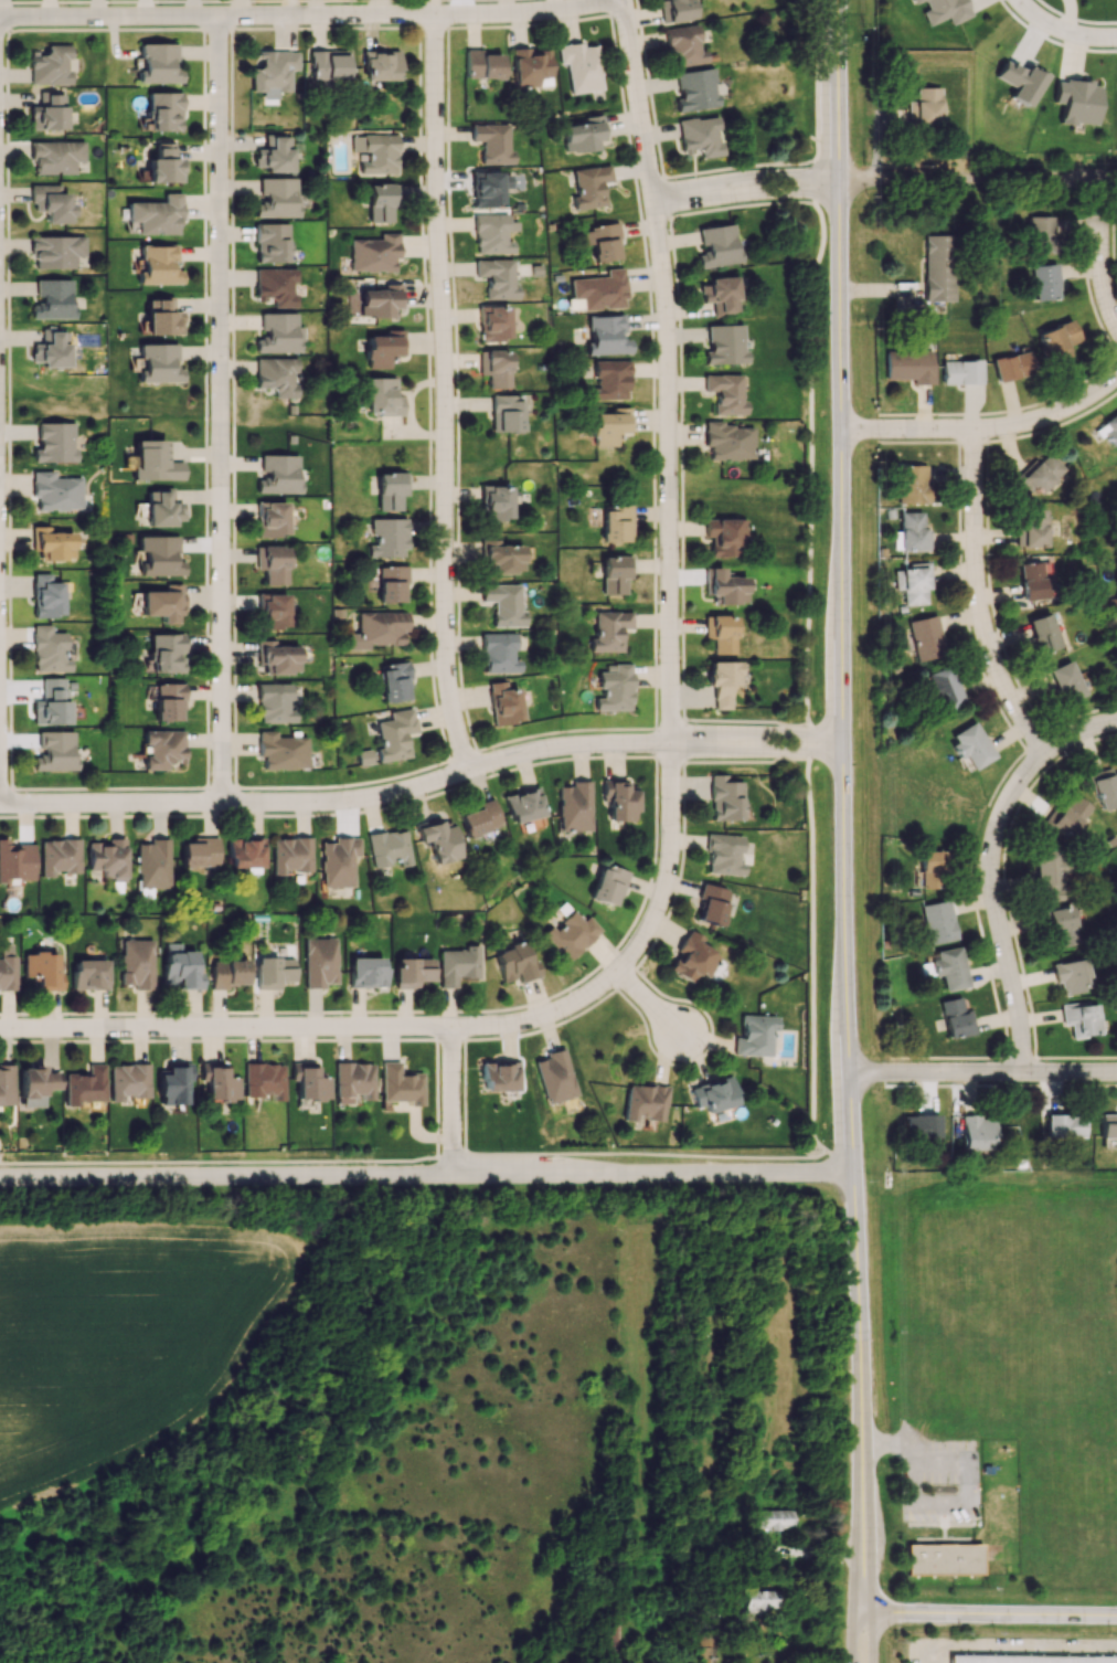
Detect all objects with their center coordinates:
road: (1019, 2)
building: (674, 10)
building: (943, 10)
road: (311, 18)
road: (1066, 31)
building: (683, 46)
building: (158, 64)
building: (328, 64)
building: (481, 64)
building: (51, 65)
building: (380, 65)
building: (581, 66)
building: (531, 67)
building: (273, 71)
building: (1021, 81)
building: (695, 89)
building: (1076, 100)
building: (923, 107)
building: (49, 112)
building: (163, 112)
building: (583, 134)
building: (700, 136)
building: (492, 142)
building: (376, 152)
building: (275, 153)
building: (56, 157)
road: (777, 179)
road: (965, 183)
building: (589, 187)
building: (489, 188)
road: (699, 197)
building: (277, 198)
road: (778, 198)
building: (381, 201)
building: (52, 203)
building: (156, 215)
building: (490, 234)
building: (1041, 234)
building: (599, 241)
building: (270, 243)
building: (717, 246)
building: (56, 252)
building: (374, 253)
building: (158, 266)
building: (938, 267)
road: (1103, 272)
building: (497, 278)
building: (1046, 282)
building: (275, 286)
building: (600, 290)
building: (721, 294)
building: (53, 299)
building: (381, 300)
building: (161, 317)
building: (493, 322)
building: (278, 333)
building: (606, 336)
building: (1056, 340)
building: (725, 345)
building: (383, 348)
building: (51, 350)
building: (158, 363)
building: (1012, 366)
building: (909, 367)
building: (494, 368)
building: (960, 372)
building: (276, 375)
building: (610, 380)
building: (725, 393)
road: (447, 395)
building: (383, 396)
road: (223, 411)
building: (506, 413)
building: (610, 425)
road: (986, 428)
building: (1109, 430)
building: (728, 442)
building: (54, 443)
building: (153, 462)
building: (278, 474)
building: (1040, 474)
building: (913, 484)
building: (391, 489)
building: (56, 491)
road: (669, 491)
building: (496, 502)
building: (161, 509)
building: (270, 519)
building: (616, 523)
building: (1031, 528)
building: (909, 532)
building: (725, 536)
building: (387, 538)
building: (53, 544)
building: (159, 555)
building: (500, 558)
building: (272, 564)
building: (615, 574)
building: (1031, 581)
building: (387, 582)
building: (912, 583)
building: (725, 586)
building: (47, 594)
road: (979, 600)
building: (162, 603)
building: (503, 604)
building: (273, 611)
building: (376, 629)
building: (609, 631)
building: (721, 633)
building: (1044, 633)
road: (0, 637)
building: (925, 638)
building: (49, 649)
building: (166, 653)
building: (499, 653)
building: (277, 657)
building: (393, 681)
building: (722, 681)
building: (1065, 681)
building: (615, 688)
building: (942, 688)
building: (168, 701)
building: (52, 702)
building: (275, 702)
building: (503, 703)
road: (1081, 732)
building: (395, 734)
road: (780, 738)
building: (970, 745)
building: (162, 748)
road: (832, 748)
building: (55, 751)
building: (281, 751)
road: (780, 755)
building: (363, 756)
building: (1104, 787)
road: (372, 798)
building: (725, 798)
building: (619, 799)
building: (524, 805)
building: (575, 806)
road: (843, 806)
building: (1067, 815)
building: (479, 817)
building: (437, 839)
building: (389, 848)
building: (200, 852)
building: (245, 852)
building: (290, 855)
building: (724, 855)
building: (60, 856)
building: (107, 858)
building: (15, 861)
building: (338, 861)
building: (153, 864)
building: (930, 869)
building: (607, 885)
building: (712, 903)
road: (994, 907)
building: (938, 922)
building: (1059, 926)
building: (571, 934)
building: (693, 958)
building: (320, 962)
building: (136, 963)
building: (515, 963)
building: (458, 965)
building: (7, 967)
building: (180, 967)
building: (946, 968)
building: (43, 970)
building: (274, 972)
building: (366, 972)
building: (413, 972)
building: (227, 973)
building: (89, 974)
building: (1071, 975)
road: (649, 1004)
building: (956, 1018)
building: (1081, 1018)
road: (317, 1029)
building: (755, 1035)
road: (811, 1039)
road: (956, 1057)
building: (499, 1076)
building: (555, 1076)
road: (983, 1076)
building: (264, 1080)
building: (128, 1081)
building: (308, 1081)
building: (352, 1081)
building: (217, 1082)
building: (6, 1084)
building: (35, 1084)
building: (173, 1084)
building: (400, 1084)
building: (85, 1085)
building: (714, 1094)
road: (455, 1101)
building: (645, 1102)
building: (919, 1125)
building: (1063, 1126)
building: (1107, 1126)
building: (976, 1132)
road: (414, 1158)
road: (427, 1173)
crop: (121, 1336)
road: (967, 1471)
parking lot: (939, 1480)
building: (773, 1518)
building: (943, 1559)
building: (758, 1599)
road: (989, 1613)
road: (855, 1636)
road: (866, 1636)
building: (702, 1644)
road: (1015, 1648)
parking lot: (1009, 1651)
building: (1028, 1659)

